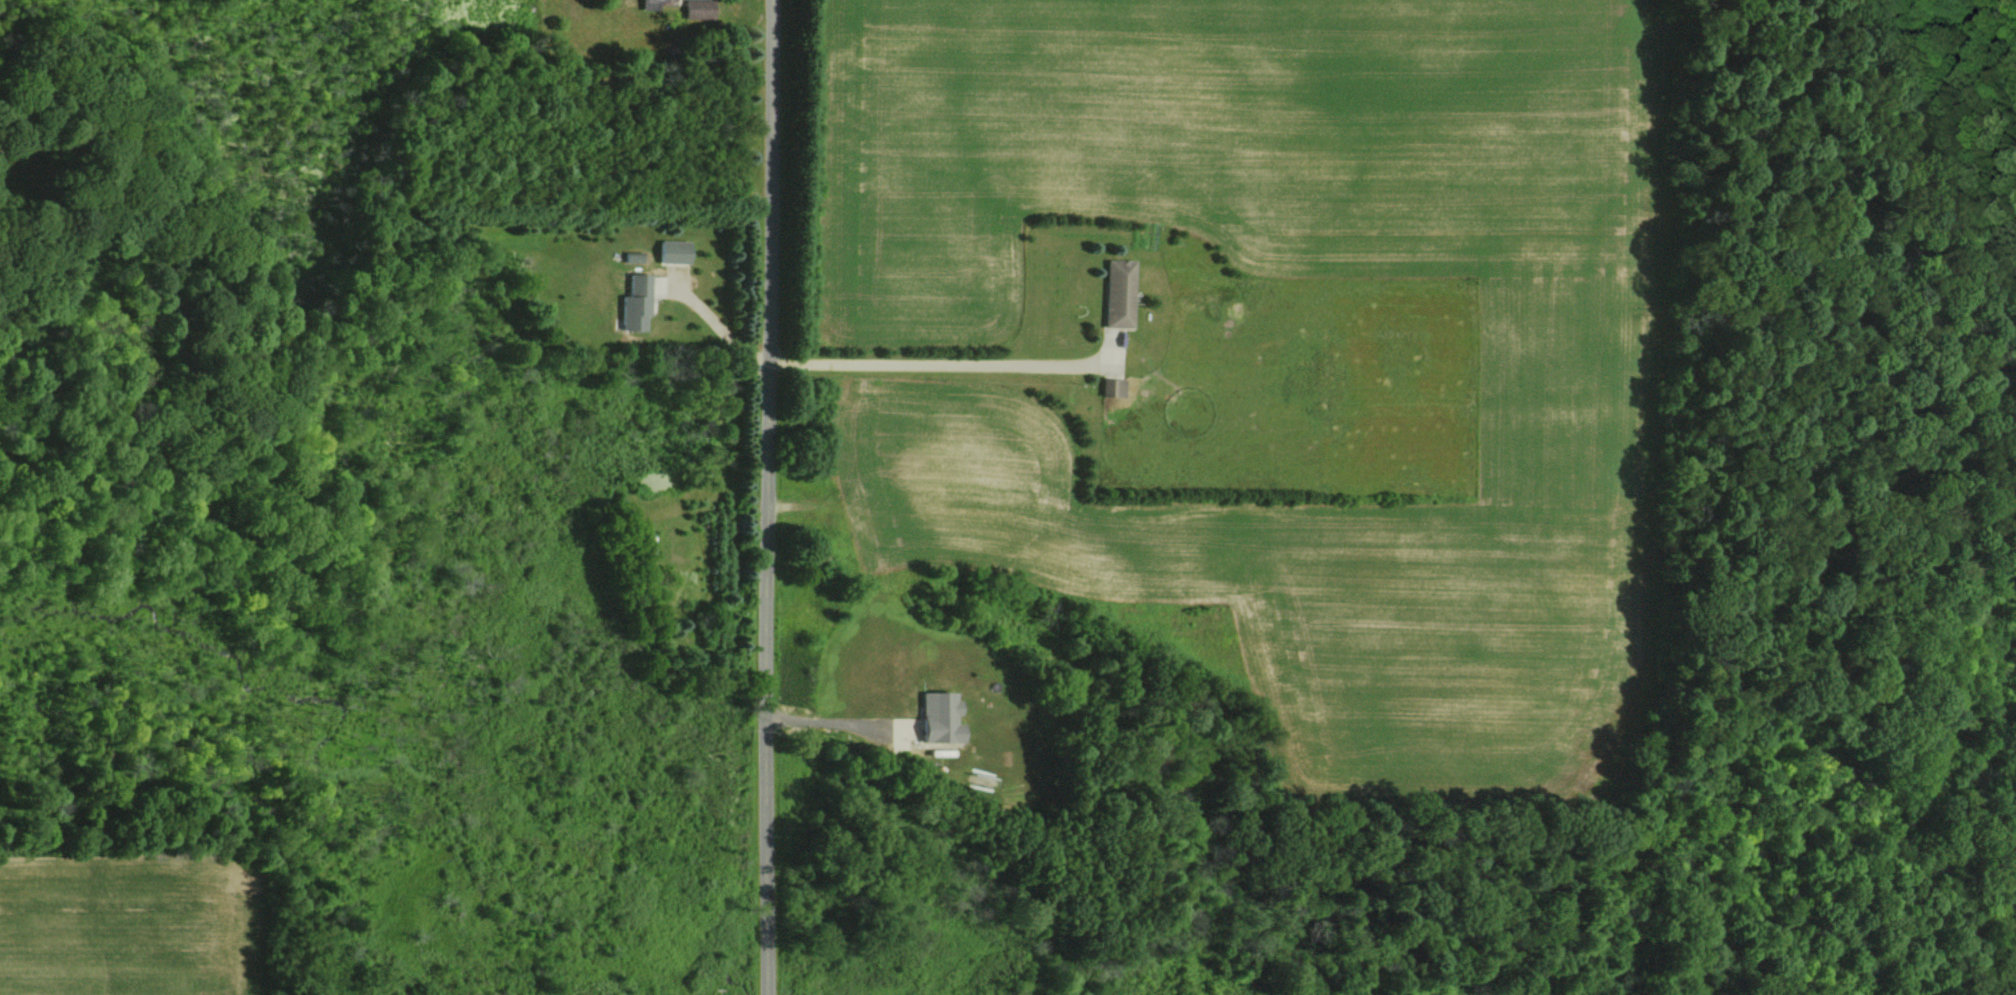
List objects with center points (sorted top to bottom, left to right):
building: (658, 2)
building: (695, 9)
building: (670, 252)
building: (1111, 294)
building: (631, 304)
road: (717, 324)
road: (942, 365)
building: (1107, 387)
road: (766, 497)
road: (825, 724)

